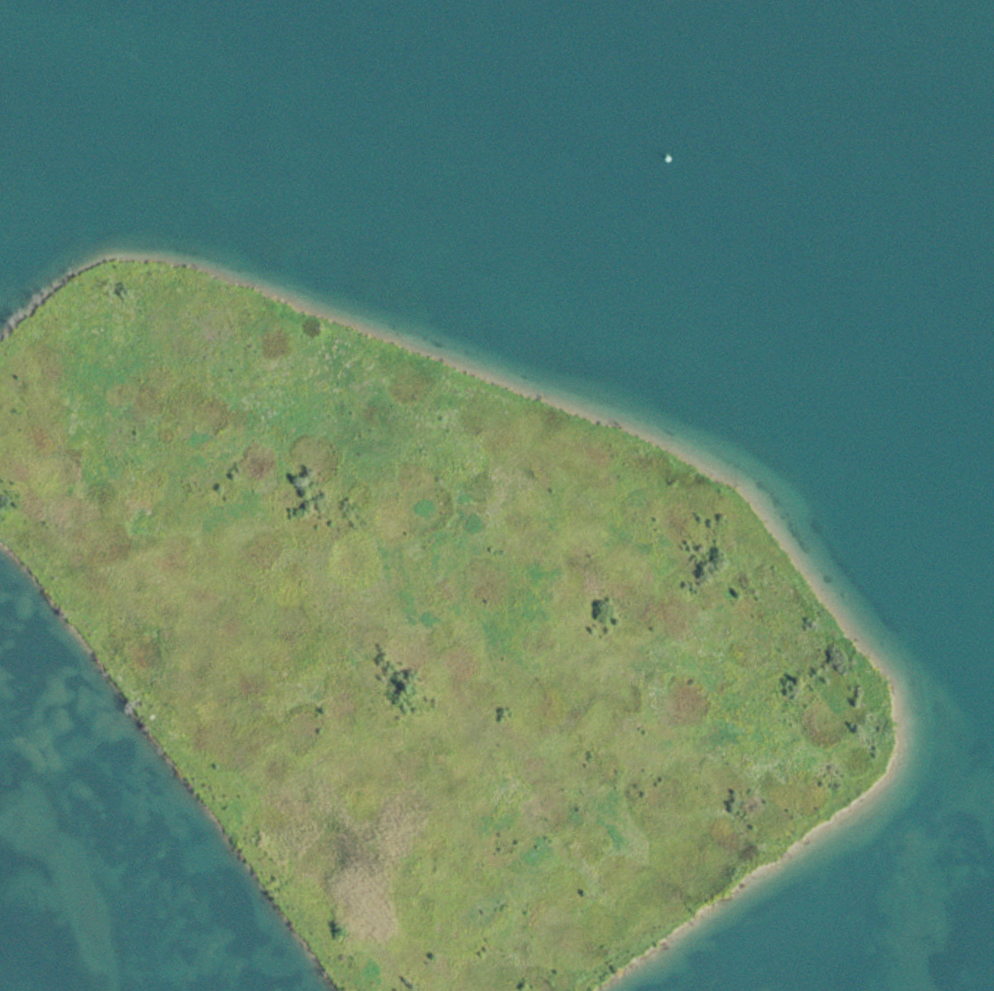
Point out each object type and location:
river: (958, 14)

